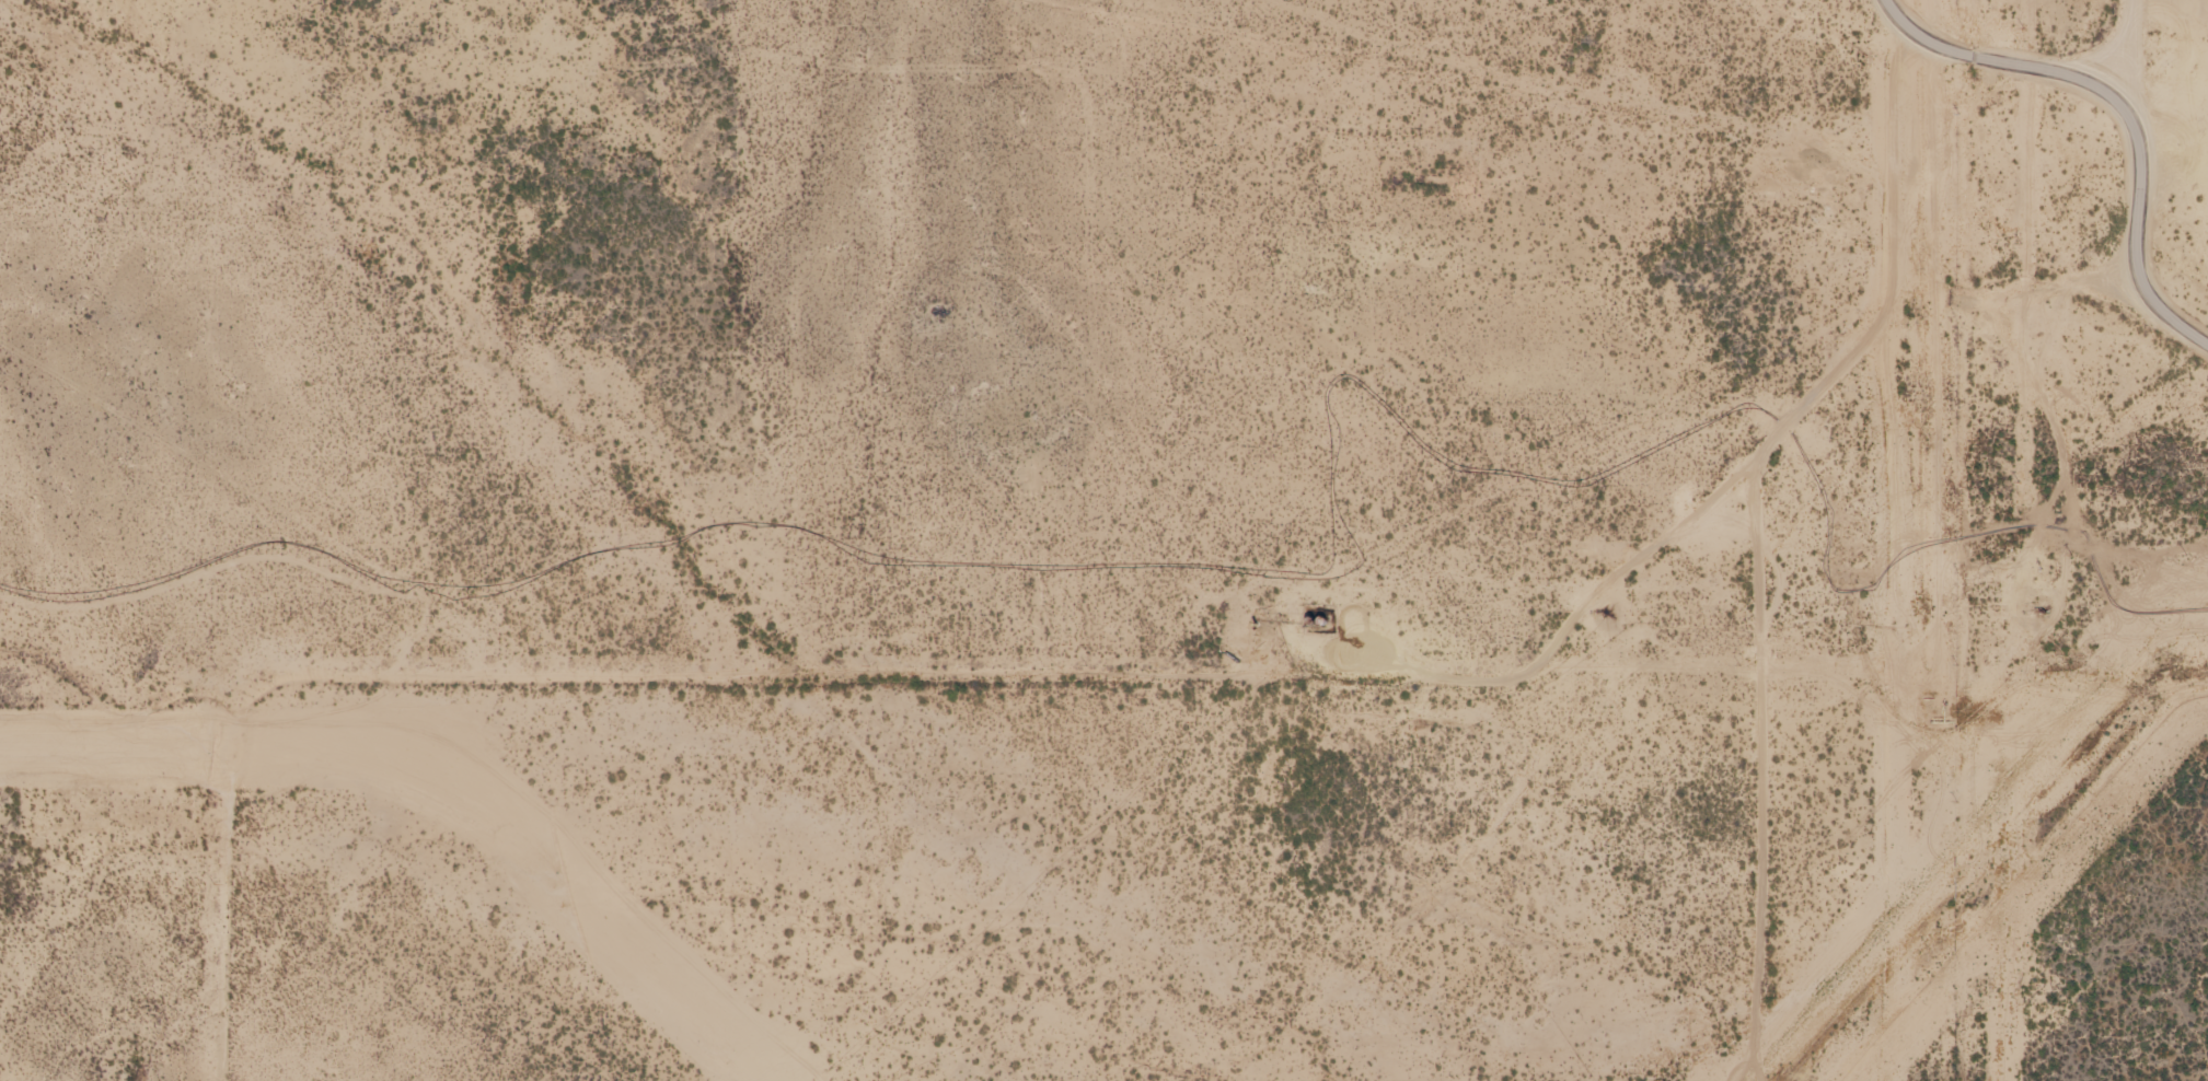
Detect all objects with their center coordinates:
road: (1816, 23)
road: (1957, 167)
road: (1912, 298)

